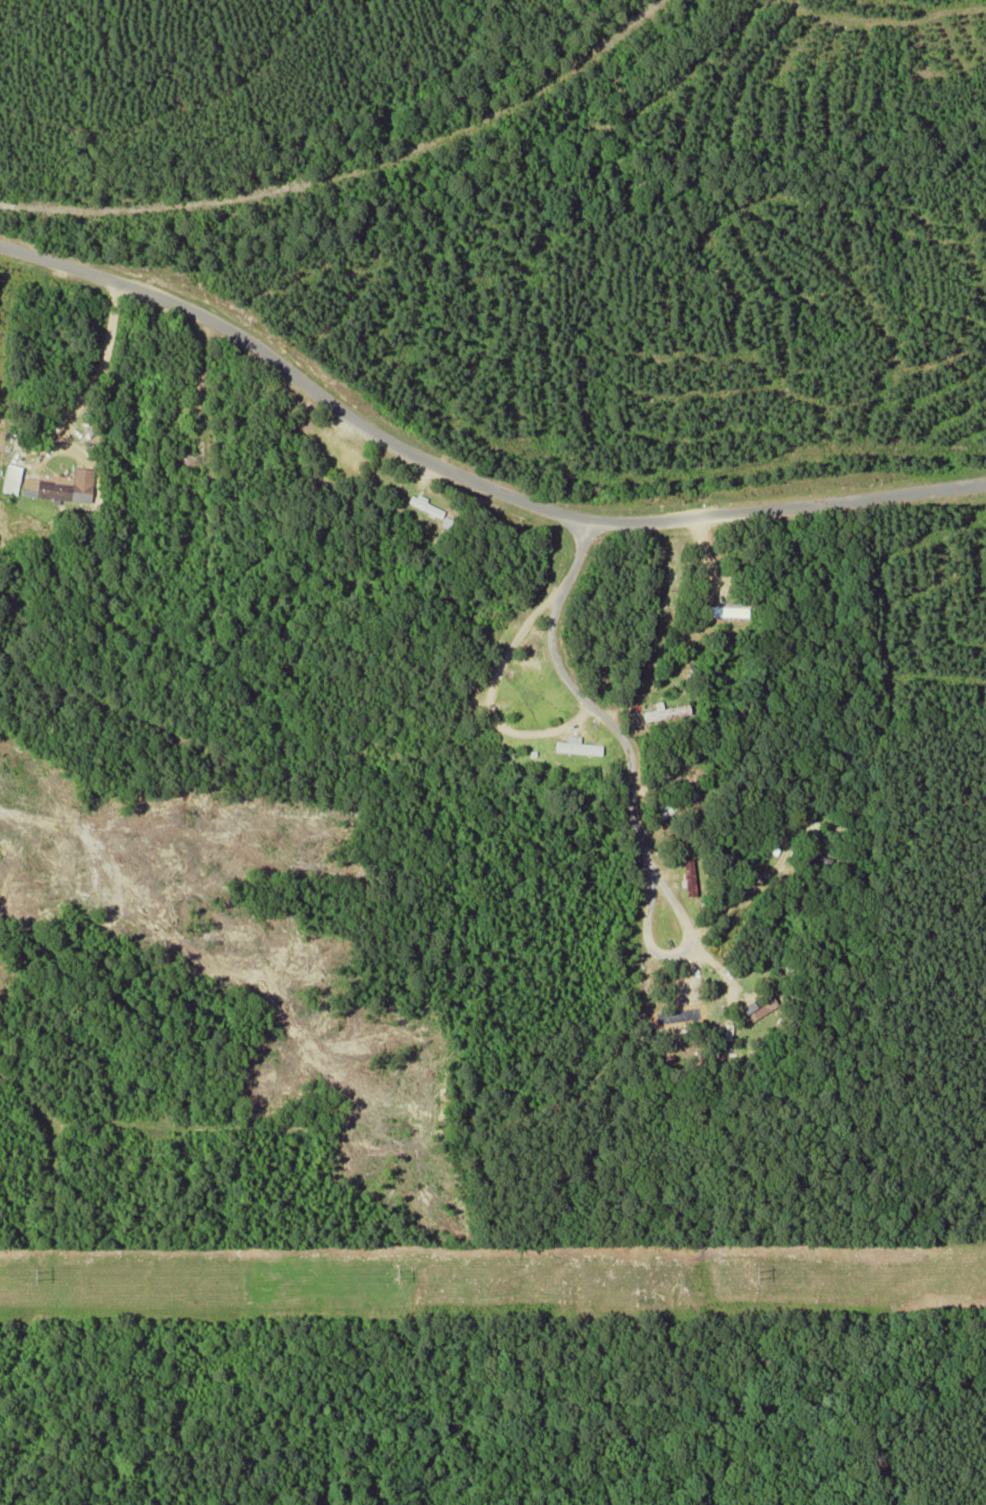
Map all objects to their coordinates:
railway: (351, 172)
road: (468, 477)
building: (9, 478)
building: (80, 484)
building: (42, 485)
building: (422, 504)
road: (578, 554)
building: (662, 710)
road: (503, 726)
building: (574, 745)
building: (687, 875)
building: (759, 1004)

